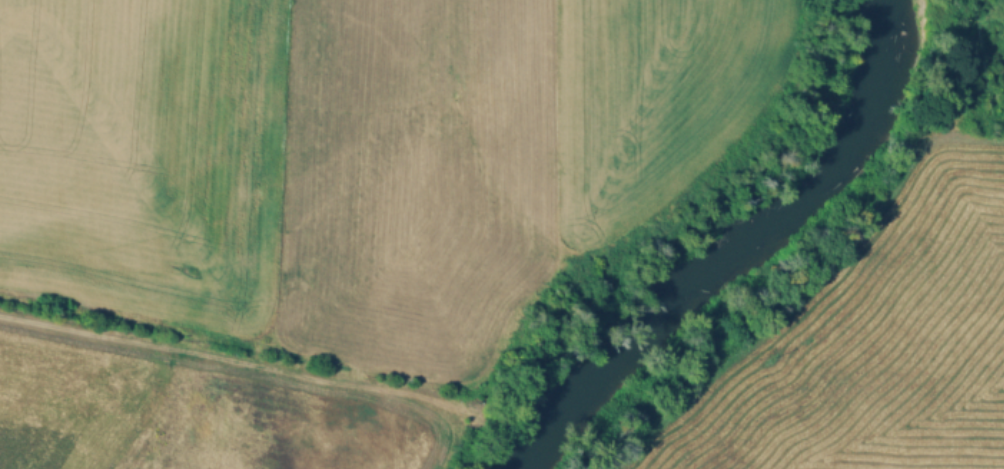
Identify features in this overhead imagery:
crop: (349, 154)
river: (734, 257)
road: (237, 359)
crop: (189, 415)

